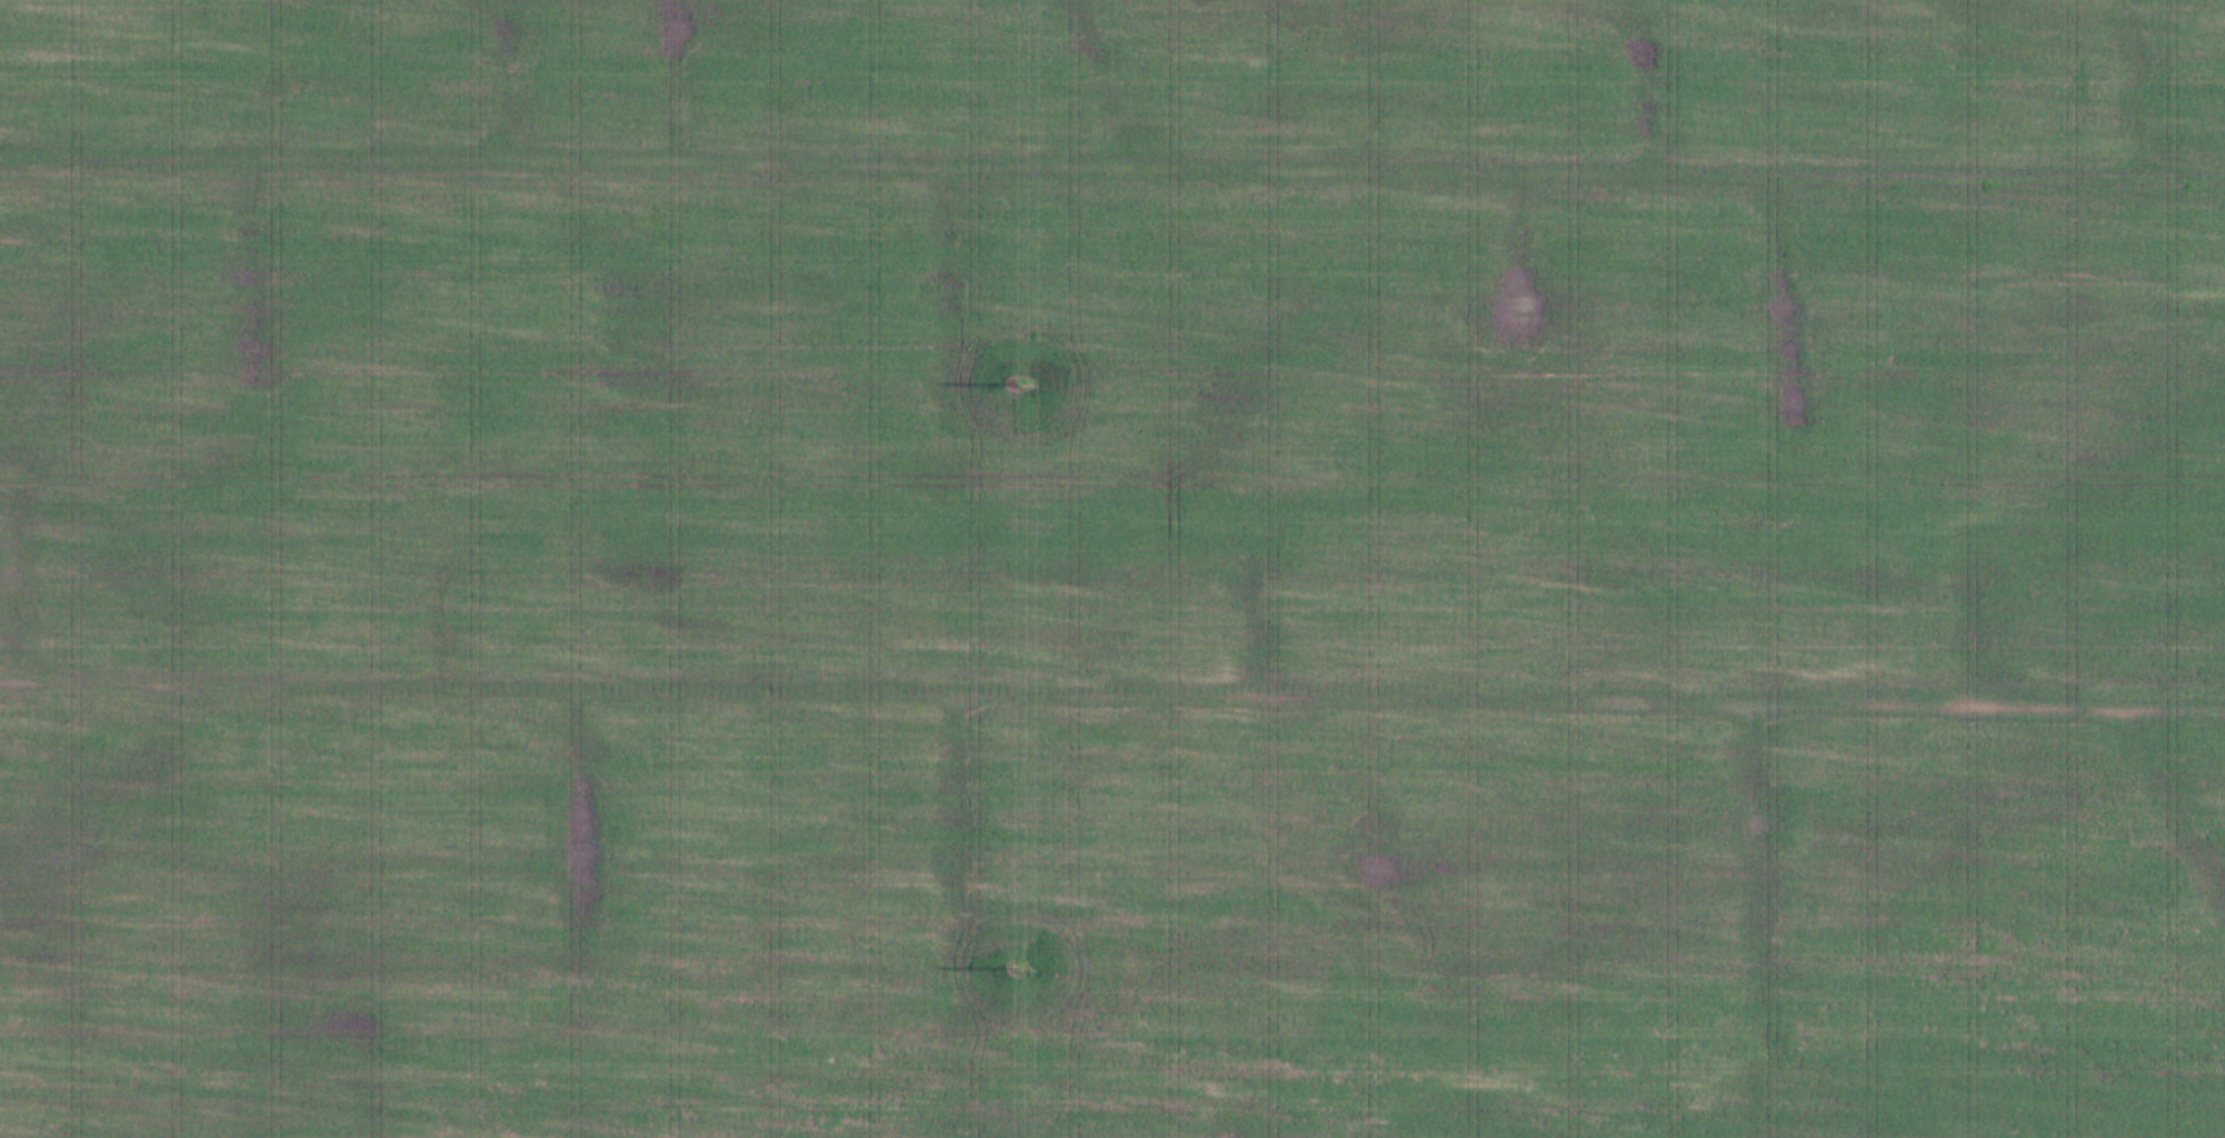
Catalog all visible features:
power tower: (1022, 383)
power tower: (1018, 966)

